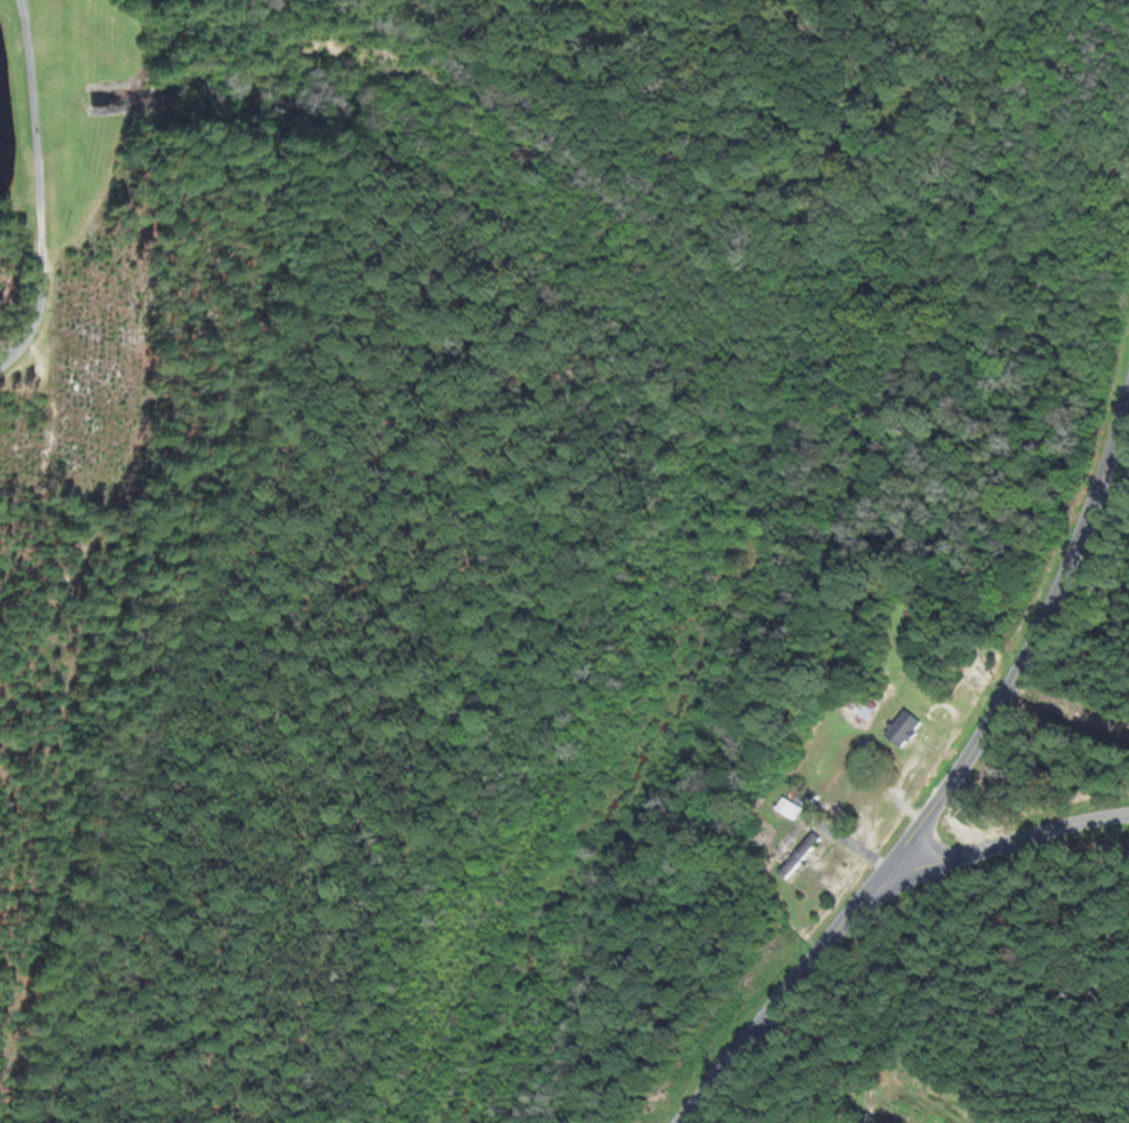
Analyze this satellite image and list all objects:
road: (26, 11)
road: (41, 203)
building: (951, 654)
building: (861, 706)
building: (904, 728)
road: (948, 791)
building: (802, 855)
road: (993, 855)

